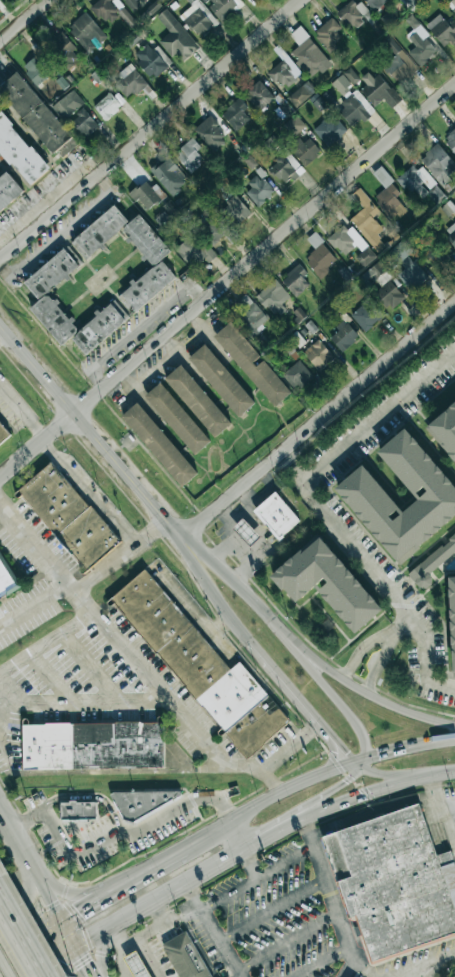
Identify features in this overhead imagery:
building: (374, 3)
building: (411, 3)
building: (452, 3)
building: (132, 4)
building: (153, 7)
building: (224, 7)
building: (112, 12)
building: (198, 18)
road: (24, 20)
building: (443, 31)
building: (86, 32)
building: (329, 32)
building: (176, 38)
building: (421, 46)
building: (63, 50)
building: (307, 54)
building: (152, 60)
building: (397, 62)
building: (36, 70)
building: (285, 71)
building: (346, 81)
building: (129, 82)
building: (377, 90)
building: (301, 94)
building: (258, 96)
building: (68, 104)
building: (318, 104)
building: (109, 105)
building: (355, 109)
building: (282, 110)
building: (235, 115)
building: (36, 116)
building: (84, 123)
building: (294, 125)
road: (150, 130)
building: (328, 131)
building: (210, 134)
building: (450, 141)
building: (304, 151)
building: (19, 152)
building: (189, 155)
building: (250, 162)
building: (438, 164)
building: (284, 169)
building: (168, 173)
building: (420, 184)
building: (258, 191)
building: (8, 192)
building: (146, 195)
building: (387, 195)
building: (169, 208)
building: (448, 208)
building: (236, 210)
building: (367, 220)
building: (216, 231)
building: (450, 233)
building: (350, 245)
road: (264, 247)
building: (194, 252)
building: (399, 252)
building: (437, 252)
building: (319, 257)
building: (154, 260)
building: (373, 274)
building: (412, 276)
building: (296, 281)
building: (388, 295)
building: (273, 298)
building: (46, 303)
building: (298, 314)
building: (250, 315)
building: (367, 315)
road: (4, 335)
road: (207, 336)
building: (343, 336)
building: (290, 350)
building: (318, 355)
building: (251, 365)
building: (297, 375)
building: (221, 381)
building: (197, 402)
road: (22, 411)
building: (177, 419)
road: (318, 422)
road: (380, 427)
road: (89, 429)
building: (445, 429)
building: (3, 435)
road: (37, 444)
building: (159, 445)
road: (294, 473)
road: (269, 487)
road: (88, 491)
building: (364, 494)
road: (247, 505)
building: (277, 516)
building: (68, 517)
road: (227, 521)
building: (246, 533)
road: (239, 548)
road: (118, 555)
building: (432, 564)
building: (7, 581)
building: (327, 583)
road: (392, 591)
road: (33, 605)
road: (193, 613)
building: (452, 620)
road: (218, 624)
road: (402, 624)
road: (114, 638)
road: (47, 647)
road: (360, 649)
road: (302, 653)
road: (378, 664)
building: (201, 668)
road: (290, 690)
road: (85, 701)
building: (92, 746)
road: (405, 748)
road: (277, 756)
road: (333, 758)
road: (358, 759)
traffic signals: (358, 763)
road: (451, 771)
road: (102, 772)
road: (271, 781)
road: (88, 797)
road: (268, 800)
road: (352, 801)
building: (141, 803)
road: (442, 810)
building: (78, 811)
road: (112, 835)
road: (14, 838)
road: (285, 861)
road: (250, 864)
road: (34, 871)
road: (144, 872)
building: (393, 884)
road: (228, 892)
road: (27, 893)
road: (167, 894)
road: (70, 896)
road: (331, 898)
road: (50, 901)
road: (82, 907)
road: (271, 909)
traffic signals: (77, 911)
road: (212, 930)
road: (67, 934)
road: (22, 938)
road: (30, 940)
road: (286, 941)
building: (183, 956)
road: (320, 960)
traffic signals: (53, 961)
road: (51, 962)
road: (82, 962)
road: (432, 962)
traffic signals: (84, 964)
building: (136, 965)
gas station: (136, 965)
road: (3, 969)
road: (364, 972)

